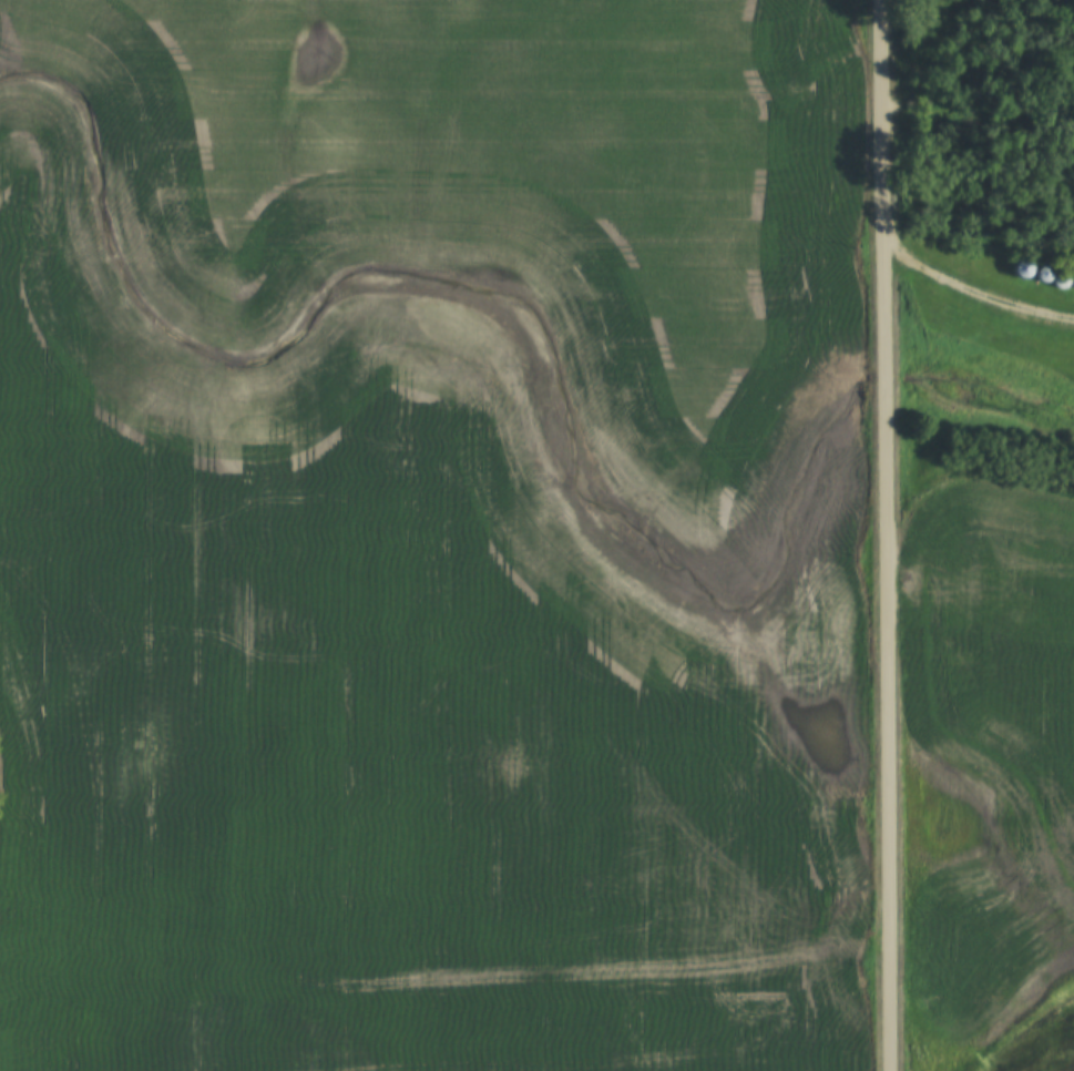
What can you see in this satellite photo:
building: (1024, 267)
building: (1046, 274)
road: (974, 293)
road: (888, 535)

